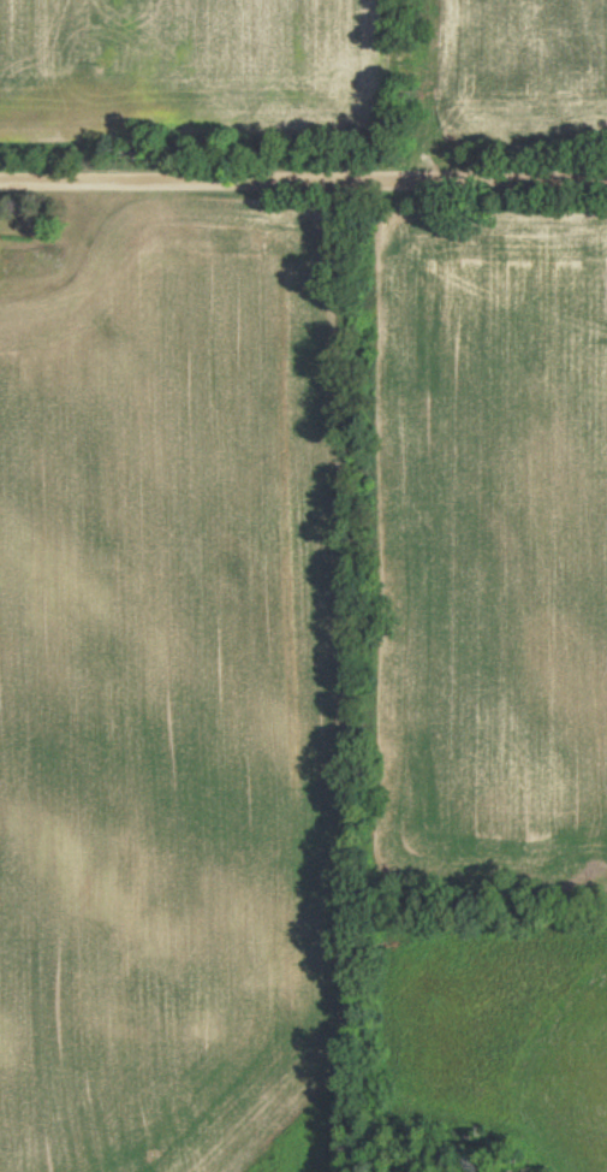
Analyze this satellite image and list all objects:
road: (303, 176)

